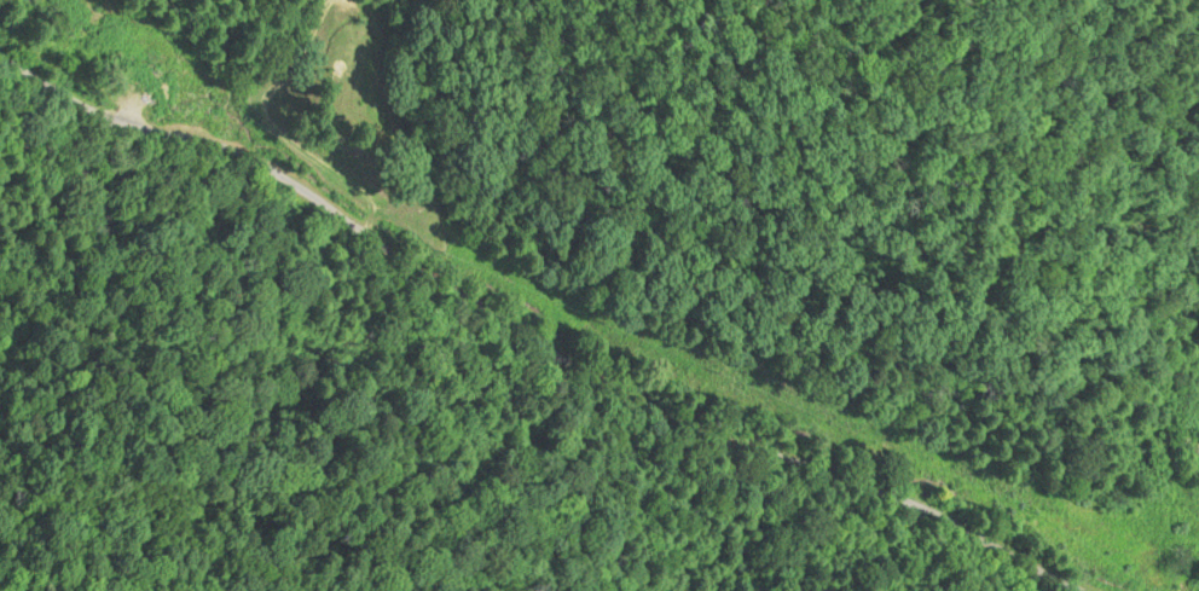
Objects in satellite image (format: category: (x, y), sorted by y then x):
road: (431, 366)

